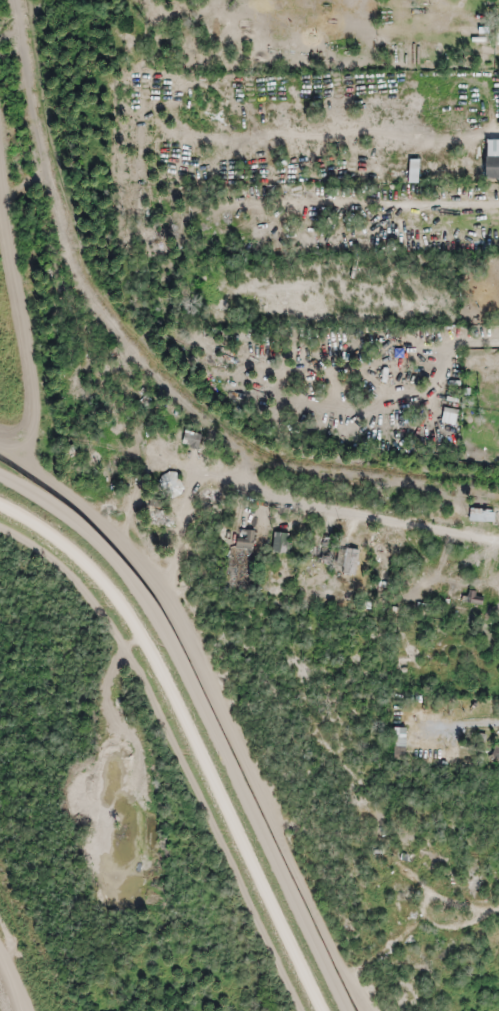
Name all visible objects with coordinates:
building: (491, 168)
crop: (27, 332)
building: (191, 439)
building: (481, 515)
building: (281, 543)
building: (349, 562)
building: (476, 599)
road: (186, 739)
building: (495, 753)
building: (400, 891)
crop: (11, 973)

